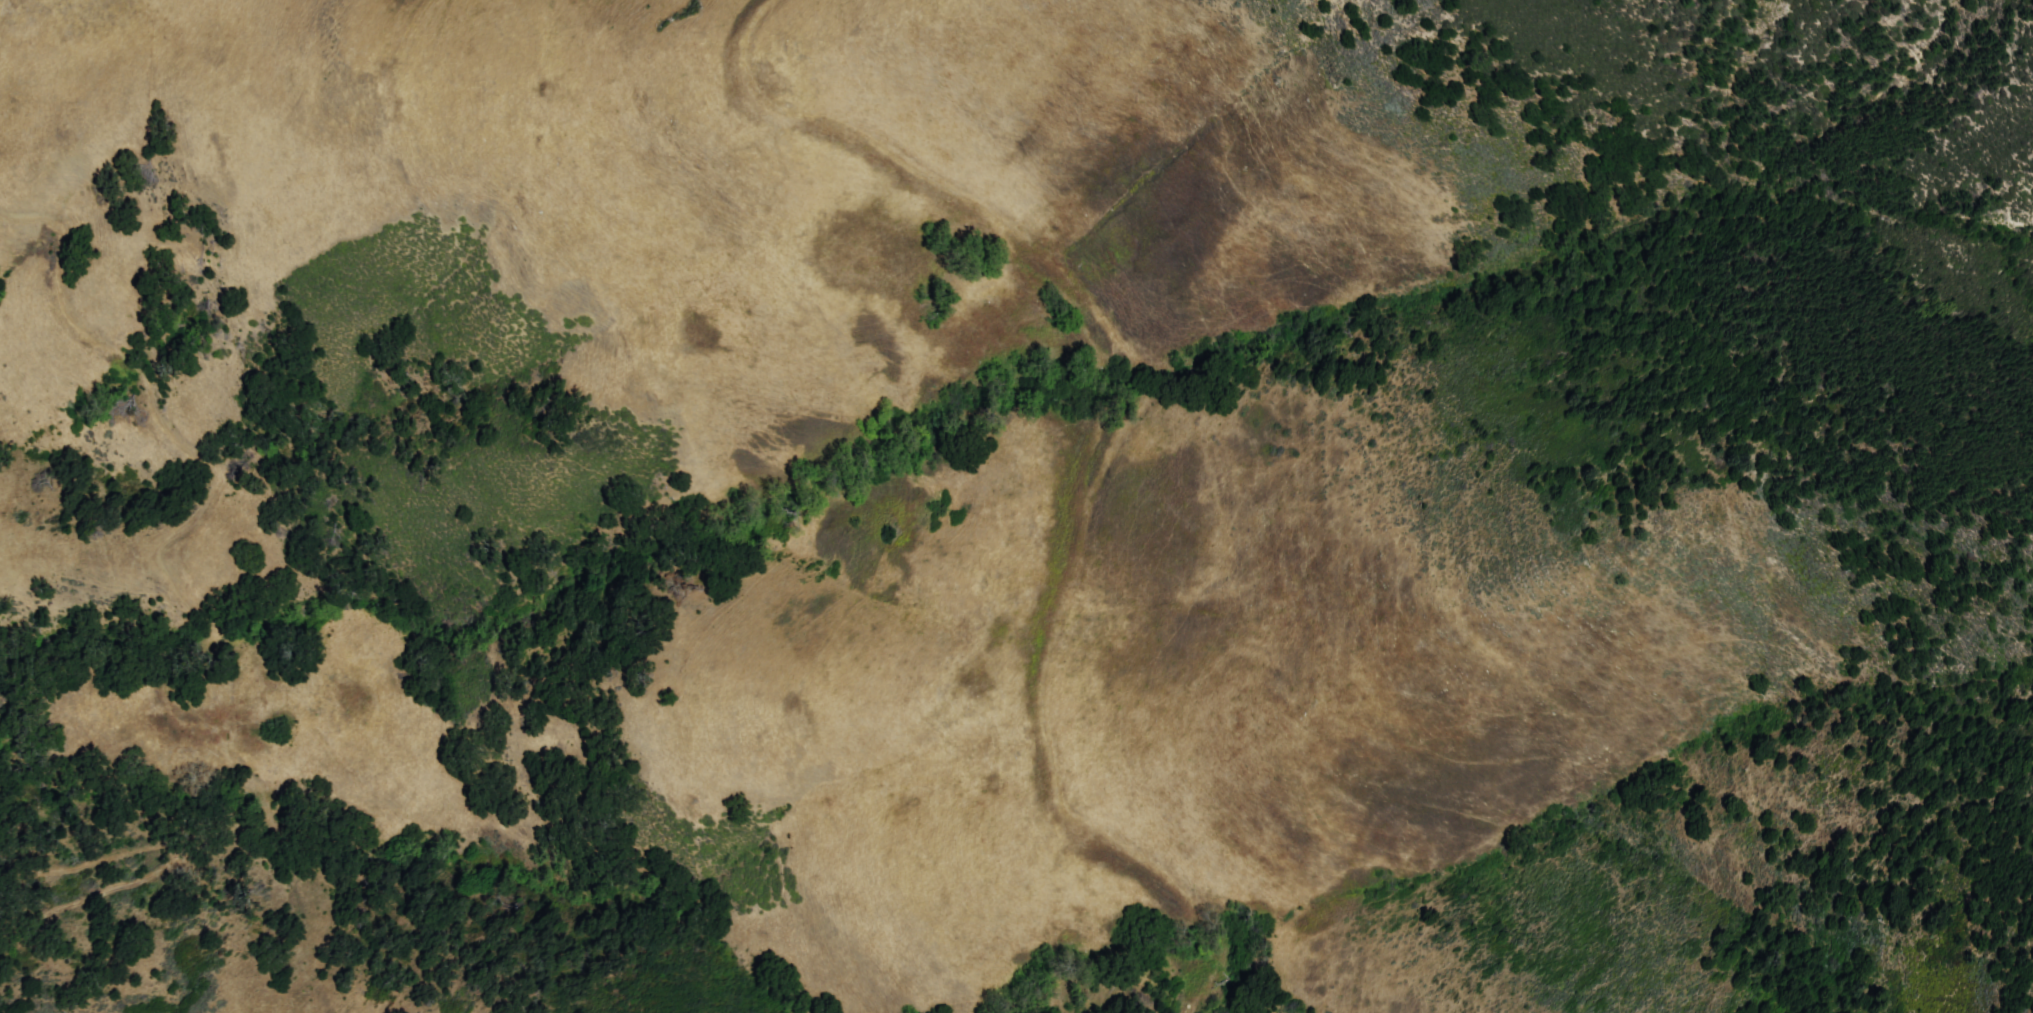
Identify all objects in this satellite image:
road: (2, 10)
road: (1097, 441)
road: (190, 612)
road: (1192, 1009)

